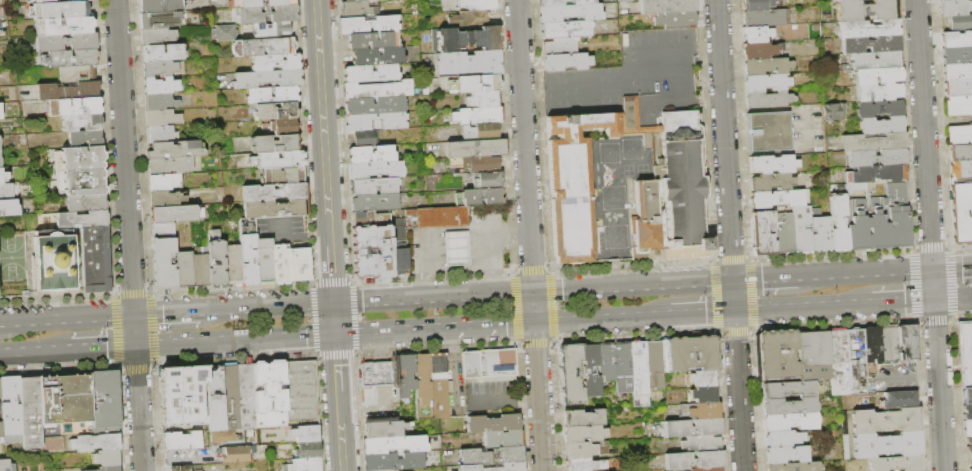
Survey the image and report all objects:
building: (358, 0)
building: (621, 0)
building: (841, 0)
building: (944, 0)
building: (56, 1)
building: (564, 2)
building: (260, 3)
building: (478, 4)
building: (759, 4)
building: (161, 6)
building: (667, 6)
building: (955, 7)
building: (60, 10)
building: (355, 10)
building: (867, 10)
building: (570, 13)
building: (268, 15)
building: (764, 18)
building: (159, 20)
building: (469, 20)
building: (675, 20)
building: (959, 22)
building: (369, 25)
building: (64, 26)
building: (566, 29)
building: (869, 29)
building: (271, 30)
building: (225, 33)
building: (757, 34)
building: (156, 37)
building: (469, 39)
building: (957, 39)
building: (372, 41)
building: (67, 42)
building: (872, 45)
building: (560, 46)
building: (263, 47)
building: (761, 51)
building: (162, 54)
road: (671, 55)
building: (956, 56)
building: (378, 57)
building: (72, 58)
building: (877, 61)
building: (566, 62)
building: (276, 63)
building: (470, 63)
building: (767, 67)
building: (162, 69)
building: (957, 72)
building: (371, 73)
building: (75, 74)
building: (878, 76)
building: (267, 79)
building: (767, 82)
building: (474, 84)
building: (160, 86)
building: (958, 88)
building: (377, 90)
building: (68, 91)
building: (879, 93)
building: (271, 95)
building: (768, 98)
building: (484, 100)
road: (698, 101)
building: (160, 102)
building: (375, 106)
building: (959, 106)
building: (74, 107)
building: (880, 109)
building: (1, 111)
building: (831, 111)
building: (275, 112)
road: (322, 112)
building: (479, 116)
building: (161, 118)
building: (82, 122)
building: (376, 122)
building: (882, 125)
building: (284, 127)
building: (481, 132)
building: (769, 132)
building: (160, 134)
building: (959, 136)
building: (83, 138)
building: (366, 138)
building: (0, 141)
building: (874, 141)
building: (275, 144)
road: (524, 146)
building: (477, 148)
building: (175, 150)
building: (960, 153)
building: (372, 154)
building: (878, 158)
building: (83, 159)
building: (278, 160)
building: (0, 162)
building: (481, 164)
building: (773, 164)
building: (170, 166)
building: (961, 169)
building: (376, 171)
building: (285, 175)
building: (876, 175)
building: (3, 176)
building: (580, 177)
building: (487, 180)
building: (684, 181)
building: (164, 182)
building: (85, 183)
building: (772, 183)
building: (373, 187)
building: (854, 188)
building: (971, 189)
building: (897, 191)
building: (6, 192)
building: (275, 192)
building: (482, 197)
building: (167, 199)
building: (777, 199)
building: (87, 203)
building: (374, 203)
building: (23, 204)
building: (648, 206)
building: (9, 208)
building: (276, 209)
building: (961, 212)
building: (176, 214)
building: (441, 217)
building: (82, 220)
building: (839, 223)
road: (515, 224)
road: (489, 226)
building: (247, 227)
building: (900, 227)
building: (399, 228)
road: (281, 229)
building: (164, 230)
building: (803, 230)
building: (821, 231)
building: (876, 231)
building: (763, 233)
building: (784, 233)
building: (856, 233)
road: (129, 235)
road: (729, 235)
road: (930, 235)
road: (305, 236)
building: (364, 245)
building: (455, 247)
gas station: (455, 247)
road: (428, 251)
park: (12, 258)
building: (400, 259)
building: (96, 260)
building: (216, 260)
building: (249, 260)
road: (491, 260)
building: (55, 261)
building: (265, 262)
building: (292, 263)
building: (165, 264)
road: (330, 264)
building: (233, 266)
road: (951, 267)
building: (185, 269)
traffic signals: (932, 269)
building: (201, 271)
road: (867, 273)
road: (767, 279)
traffic signals: (732, 281)
road: (429, 284)
road: (672, 284)
road: (573, 289)
traffic signals: (533, 292)
road: (446, 297)
road: (953, 297)
traffic signals: (934, 299)
road: (902, 300)
road: (346, 303)
traffic signals: (333, 304)
road: (802, 306)
road: (271, 307)
road: (534, 307)
traffic signals: (734, 310)
road: (700, 312)
road: (171, 313)
traffic signals: (134, 315)
road: (68, 318)
road: (334, 318)
road: (600, 318)
road: (1, 322)
traffic signals: (535, 322)
road: (435, 327)
traffic signals: (335, 333)
road: (322, 334)
road: (222, 340)
building: (904, 342)
building: (887, 343)
building: (872, 344)
traffic signals: (135, 345)
road: (102, 347)
building: (813, 347)
road: (35, 350)
building: (965, 352)
building: (689, 353)
building: (777, 354)
building: (838, 361)
building: (855, 361)
road: (335, 362)
building: (486, 362)
building: (606, 363)
building: (654, 364)
building: (622, 368)
road: (379, 369)
road: (385, 369)
building: (590, 370)
building: (814, 372)
building: (638, 373)
building: (375, 374)
building: (571, 374)
building: (405, 375)
parking lot: (893, 377)
building: (703, 378)
building: (438, 386)
building: (422, 387)
building: (789, 388)
building: (0, 391)
building: (300, 392)
building: (704, 394)
building: (967, 395)
building: (182, 396)
building: (269, 396)
road: (539, 396)
building: (245, 397)
parking lot: (488, 397)
road: (525, 397)
building: (230, 399)
road: (488, 399)
building: (899, 399)
building: (65, 400)
building: (105, 400)
building: (214, 400)
building: (789, 404)
road: (379, 408)
road: (352, 409)
building: (11, 410)
building: (704, 410)
building: (967, 411)
building: (31, 413)
building: (583, 418)
building: (885, 420)
building: (791, 421)
building: (492, 423)
building: (693, 427)
building: (385, 428)
building: (967, 428)
road: (340, 431)
building: (1, 434)
building: (305, 434)
building: (583, 434)
building: (223, 436)
building: (782, 438)
building: (502, 439)
building: (181, 441)
building: (96, 443)
building: (702, 443)
building: (887, 444)
building: (968, 444)
building: (394, 445)
building: (308, 450)
building: (579, 450)
building: (786, 454)
building: (235, 455)
building: (491, 455)
parking lot: (186, 457)
building: (107, 458)
building: (970, 458)
building: (693, 460)
building: (392, 461)
building: (896, 463)
building: (584, 464)
building: (305, 465)
building: (6, 466)
building: (793, 466)
building: (494, 467)
building: (186, 468)
building: (110, 469)
building: (707, 469)
building: (969, 469)
building: (386, 470)

